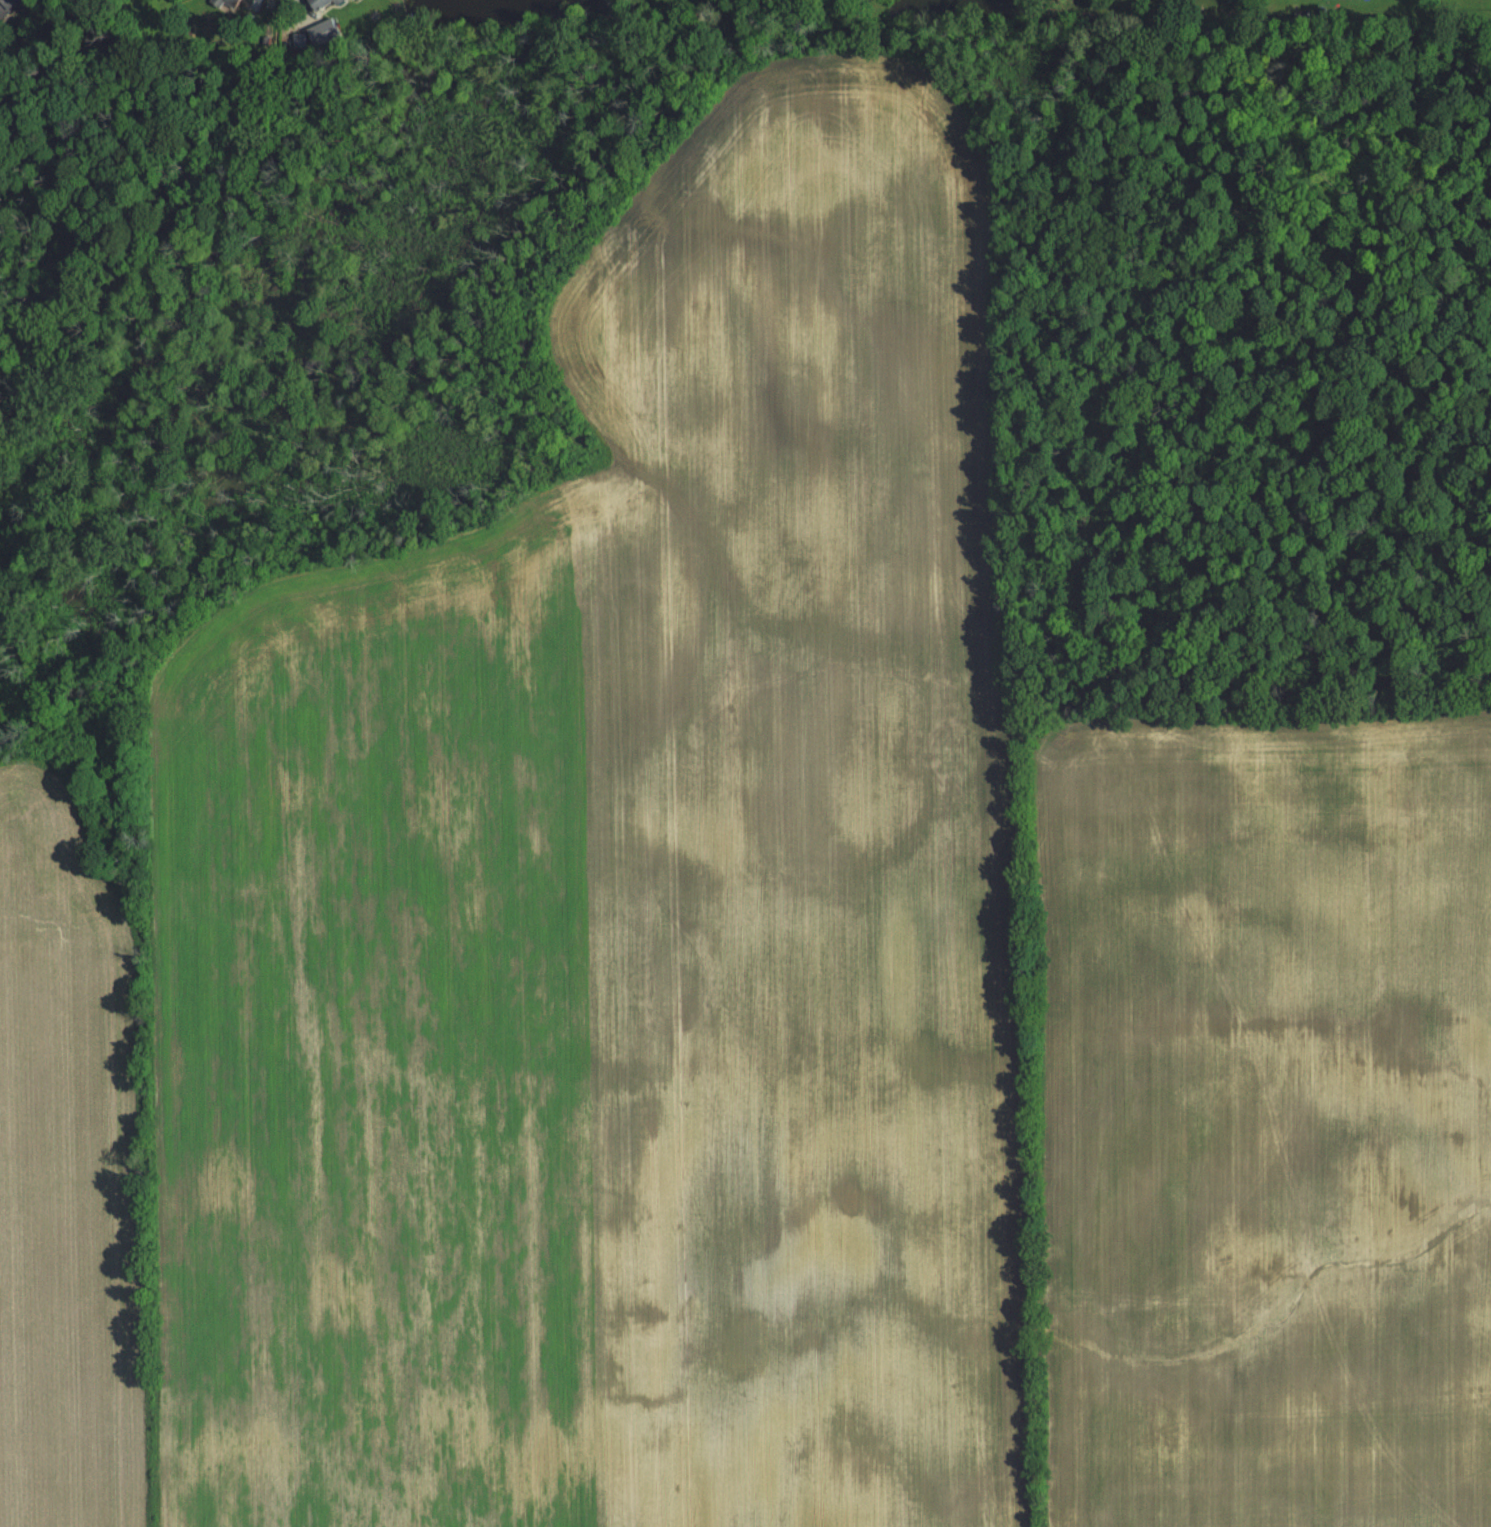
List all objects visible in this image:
building: (11, 1)
building: (314, 3)
building: (322, 31)

